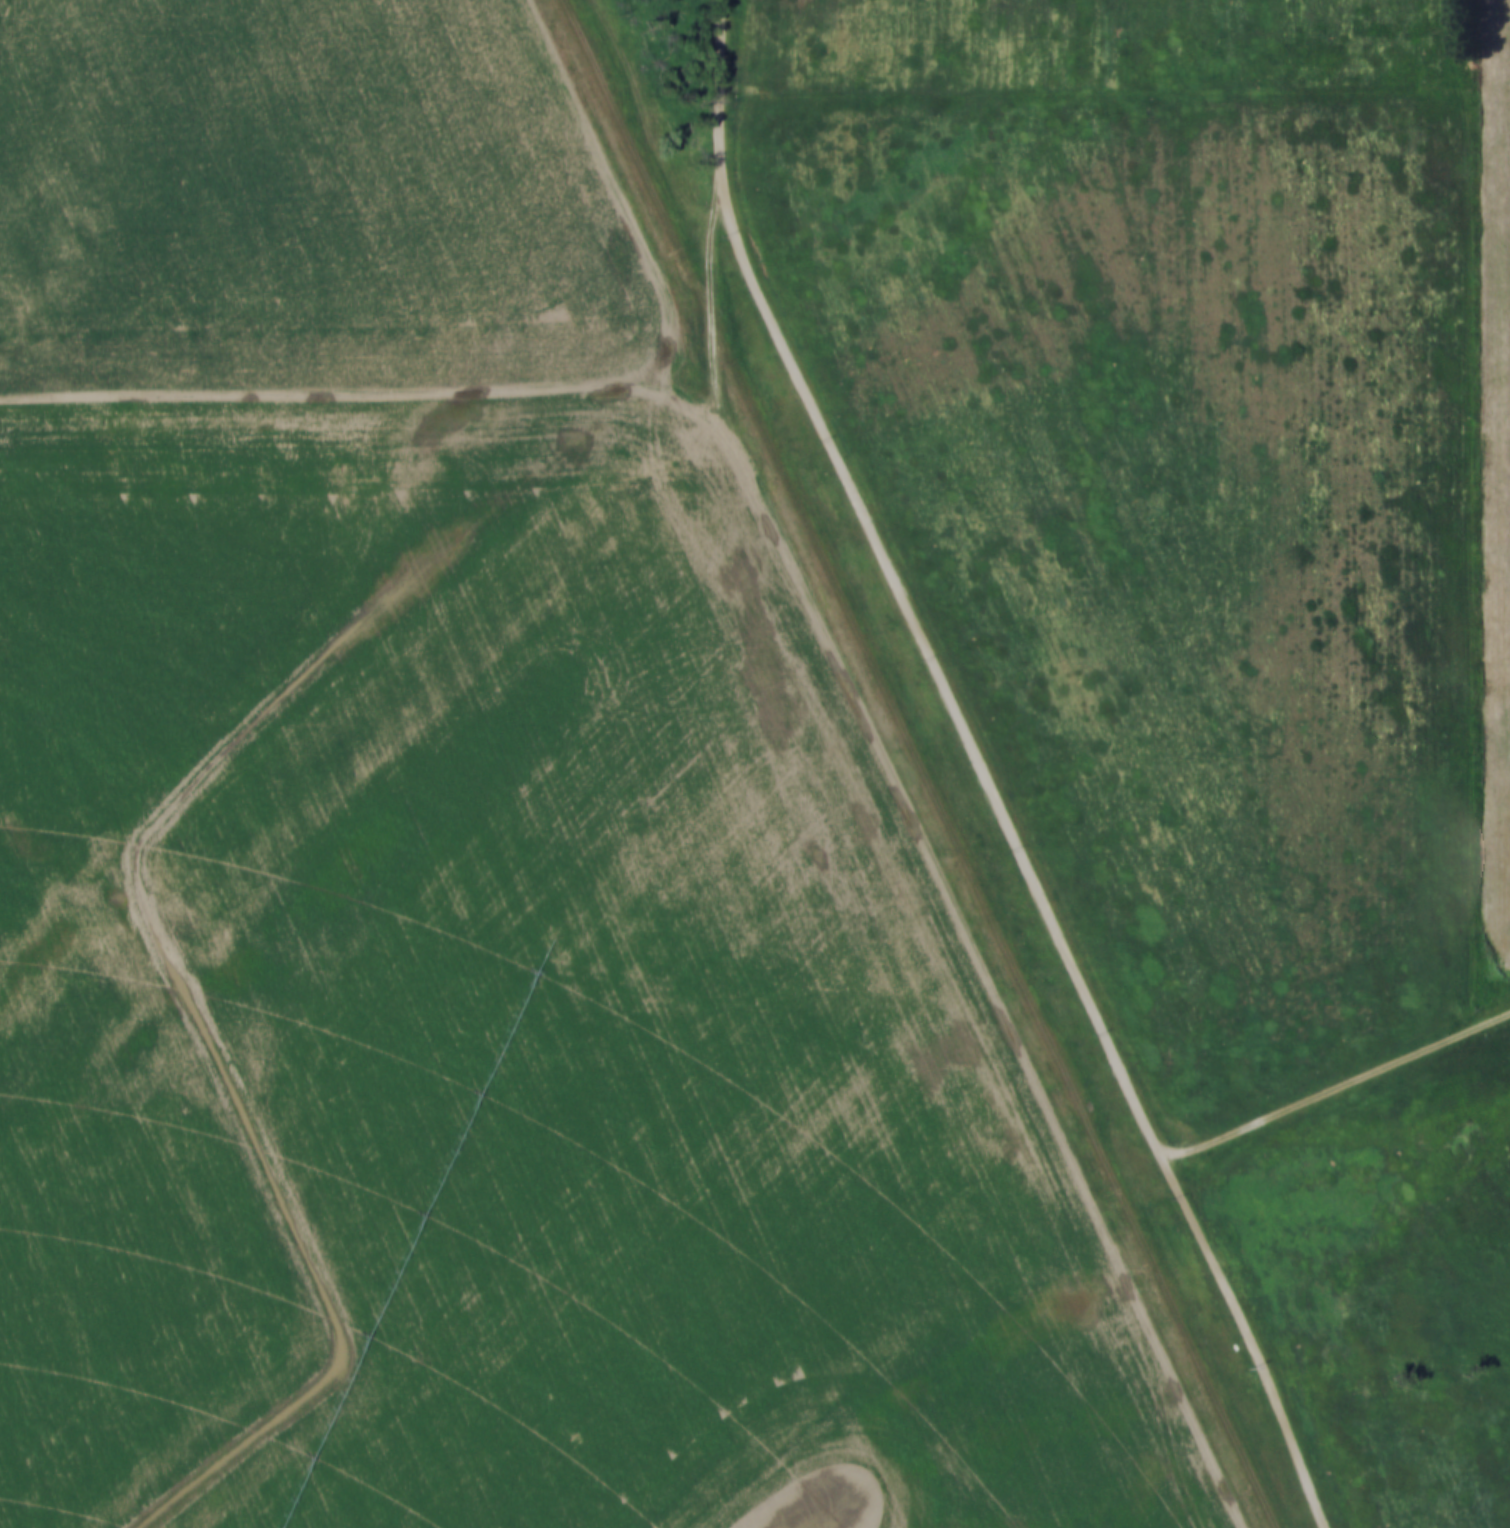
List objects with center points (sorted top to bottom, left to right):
road: (984, 771)
road: (1334, 1090)

